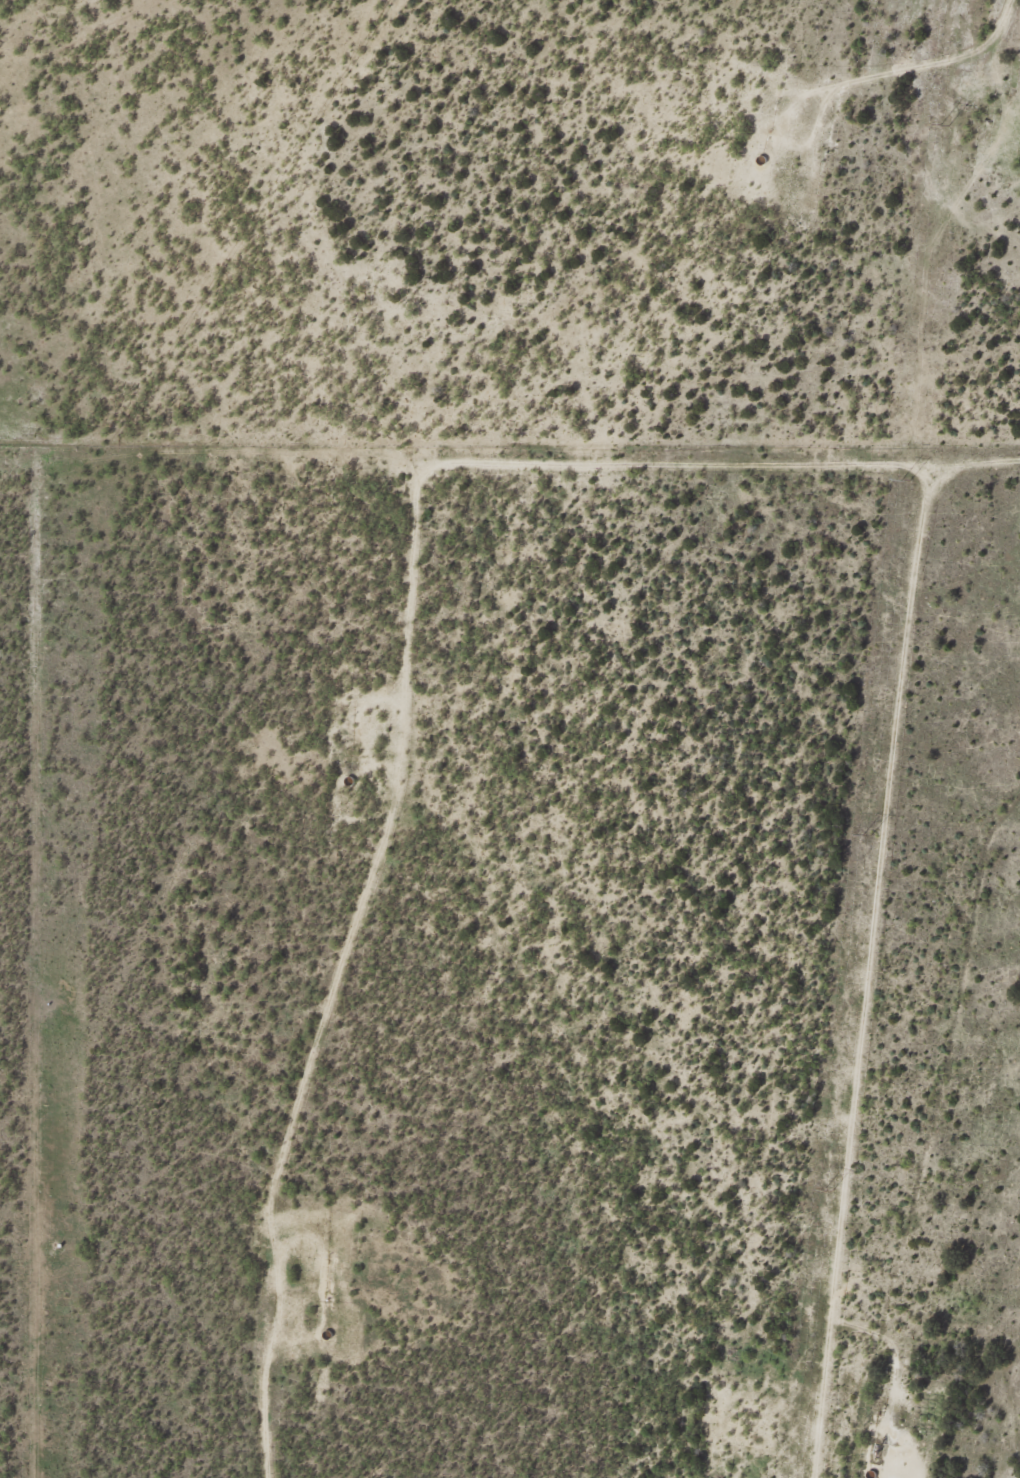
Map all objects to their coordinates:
power tower: (946, 123)
power tower: (907, 478)
power tower: (868, 831)
power tower: (830, 1188)

